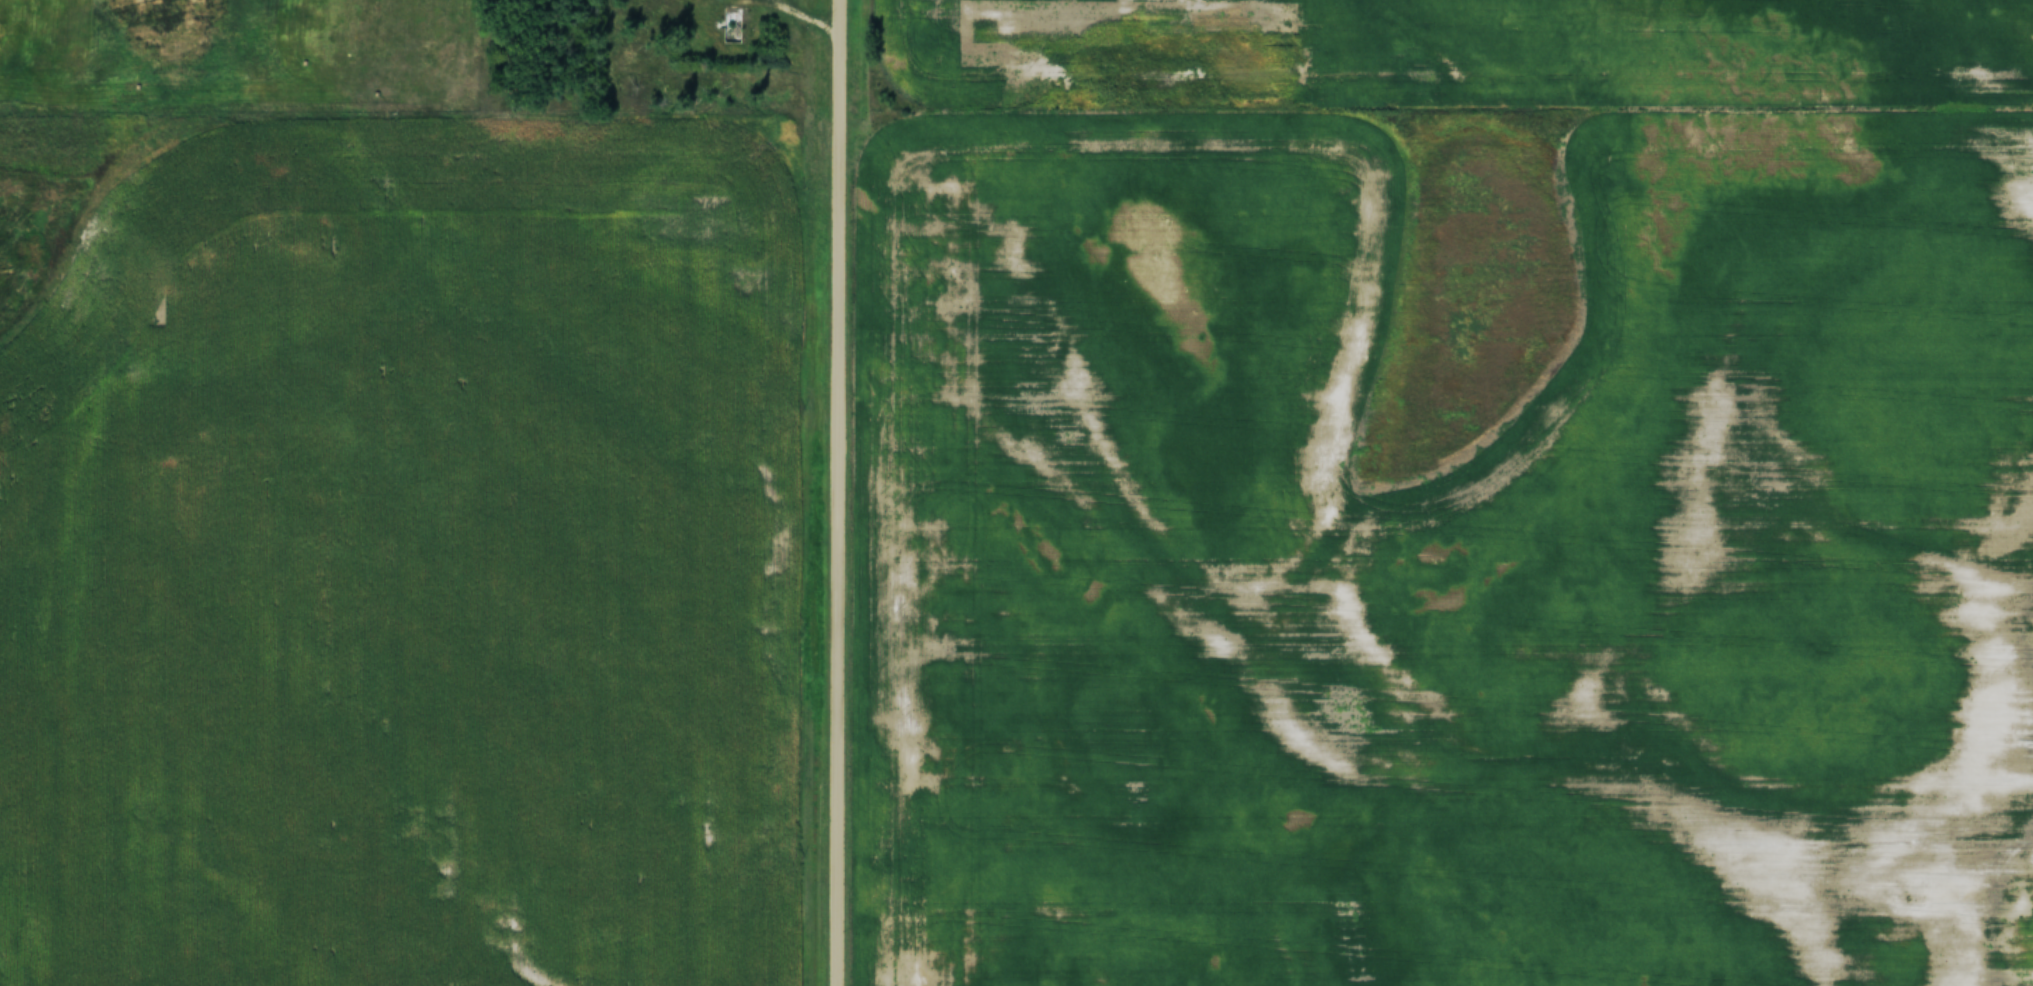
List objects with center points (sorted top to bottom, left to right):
building: (733, 24)
road: (838, 493)

